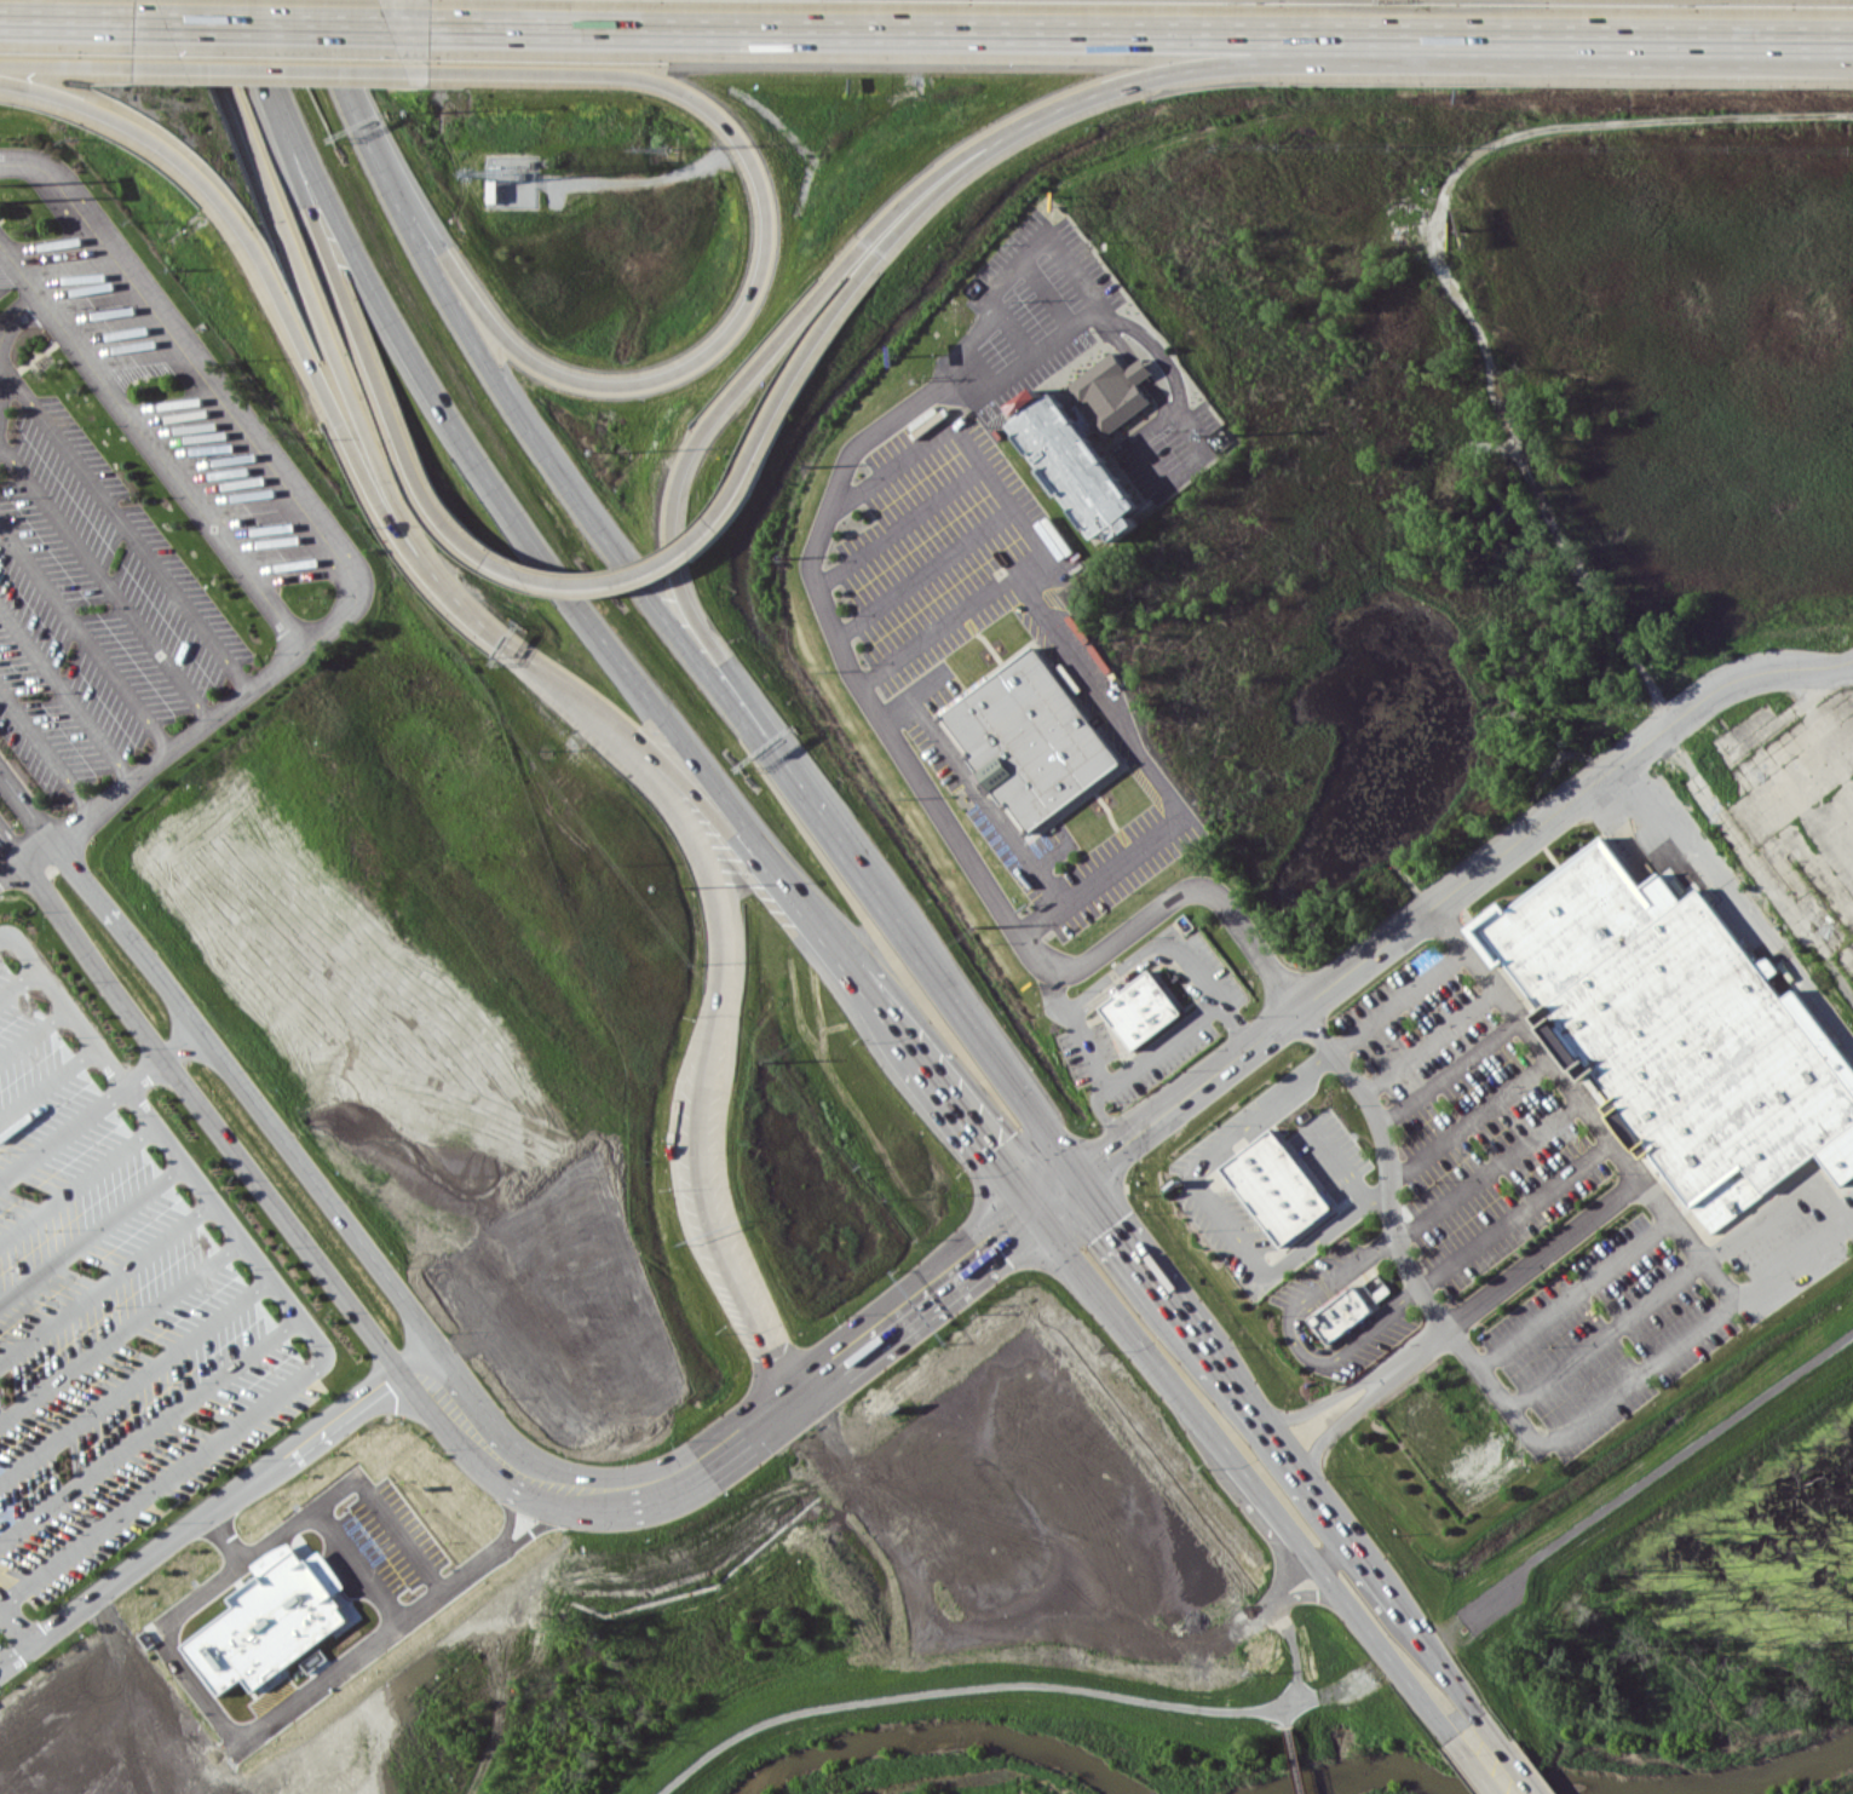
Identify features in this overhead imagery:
road: (67, 18)
road: (282, 23)
road: (1008, 29)
road: (242, 33)
road: (1720, 34)
road: (1313, 61)
road: (67, 64)
road: (278, 67)
road: (845, 298)
road: (11, 315)
road: (284, 318)
road: (730, 329)
road: (320, 330)
road: (359, 343)
road: (185, 349)
building: (1113, 390)
parking lot: (174, 409)
road: (707, 426)
road: (1198, 438)
road: (150, 441)
road: (961, 449)
road: (514, 519)
road: (123, 524)
road: (896, 534)
road: (103, 576)
road: (620, 579)
road: (921, 579)
road: (657, 608)
parking lot: (93, 609)
road: (825, 622)
road: (85, 636)
road: (531, 661)
road: (64, 692)
road: (1103, 701)
road: (190, 731)
building: (1032, 738)
road: (45, 749)
road: (968, 794)
road: (704, 803)
road: (715, 881)
road: (1445, 896)
road: (100, 897)
road: (1737, 909)
road: (1443, 935)
road: (17, 979)
road: (1113, 982)
road: (863, 983)
road: (1205, 993)
road: (1053, 1000)
road: (1498, 1006)
building: (1143, 1008)
road: (31, 1030)
building: (1680, 1030)
road: (1425, 1046)
road: (1158, 1053)
road: (1082, 1054)
road: (1444, 1076)
road: (46, 1079)
road: (102, 1103)
road: (197, 1106)
road: (966, 1122)
road: (1104, 1123)
road: (1467, 1128)
road: (1340, 1161)
road: (1385, 1166)
road: (1484, 1173)
road: (75, 1175)
traffic signals: (1088, 1175)
building: (1278, 1188)
road: (1051, 1206)
road: (1777, 1207)
road: (1219, 1209)
traffic signals: (1036, 1218)
road: (1510, 1221)
road: (91, 1229)
road: (1129, 1231)
road: (357, 1235)
road: (1791, 1266)
road: (729, 1271)
road: (1704, 1276)
road: (104, 1278)
road: (286, 1299)
road: (1571, 1300)
building: (1342, 1313)
road: (1192, 1316)
road: (119, 1326)
road: (1602, 1340)
road: (1290, 1346)
road: (424, 1368)
road: (133, 1375)
road: (1176, 1388)
road: (1322, 1403)
road: (1256, 1410)
road: (782, 1415)
road: (447, 1418)
road: (148, 1422)
road: (1337, 1425)
road: (359, 1474)
road: (510, 1503)
road: (215, 1506)
road: (551, 1517)
road: (363, 1558)
road: (1310, 1564)
road: (1317, 1598)
road: (1, 1599)
road: (1393, 1599)
road: (17, 1616)
building: (274, 1620)
road: (1219, 1634)
road: (1294, 1651)
road: (1388, 1651)
road: (18, 1652)
road: (959, 1686)
road: (1347, 1686)
road: (1301, 1701)
road: (1287, 1714)
road: (258, 1726)
river: (936, 1737)
road: (1296, 1759)
road: (1492, 1761)
park: (937, 1775)
river: (1564, 1790)

